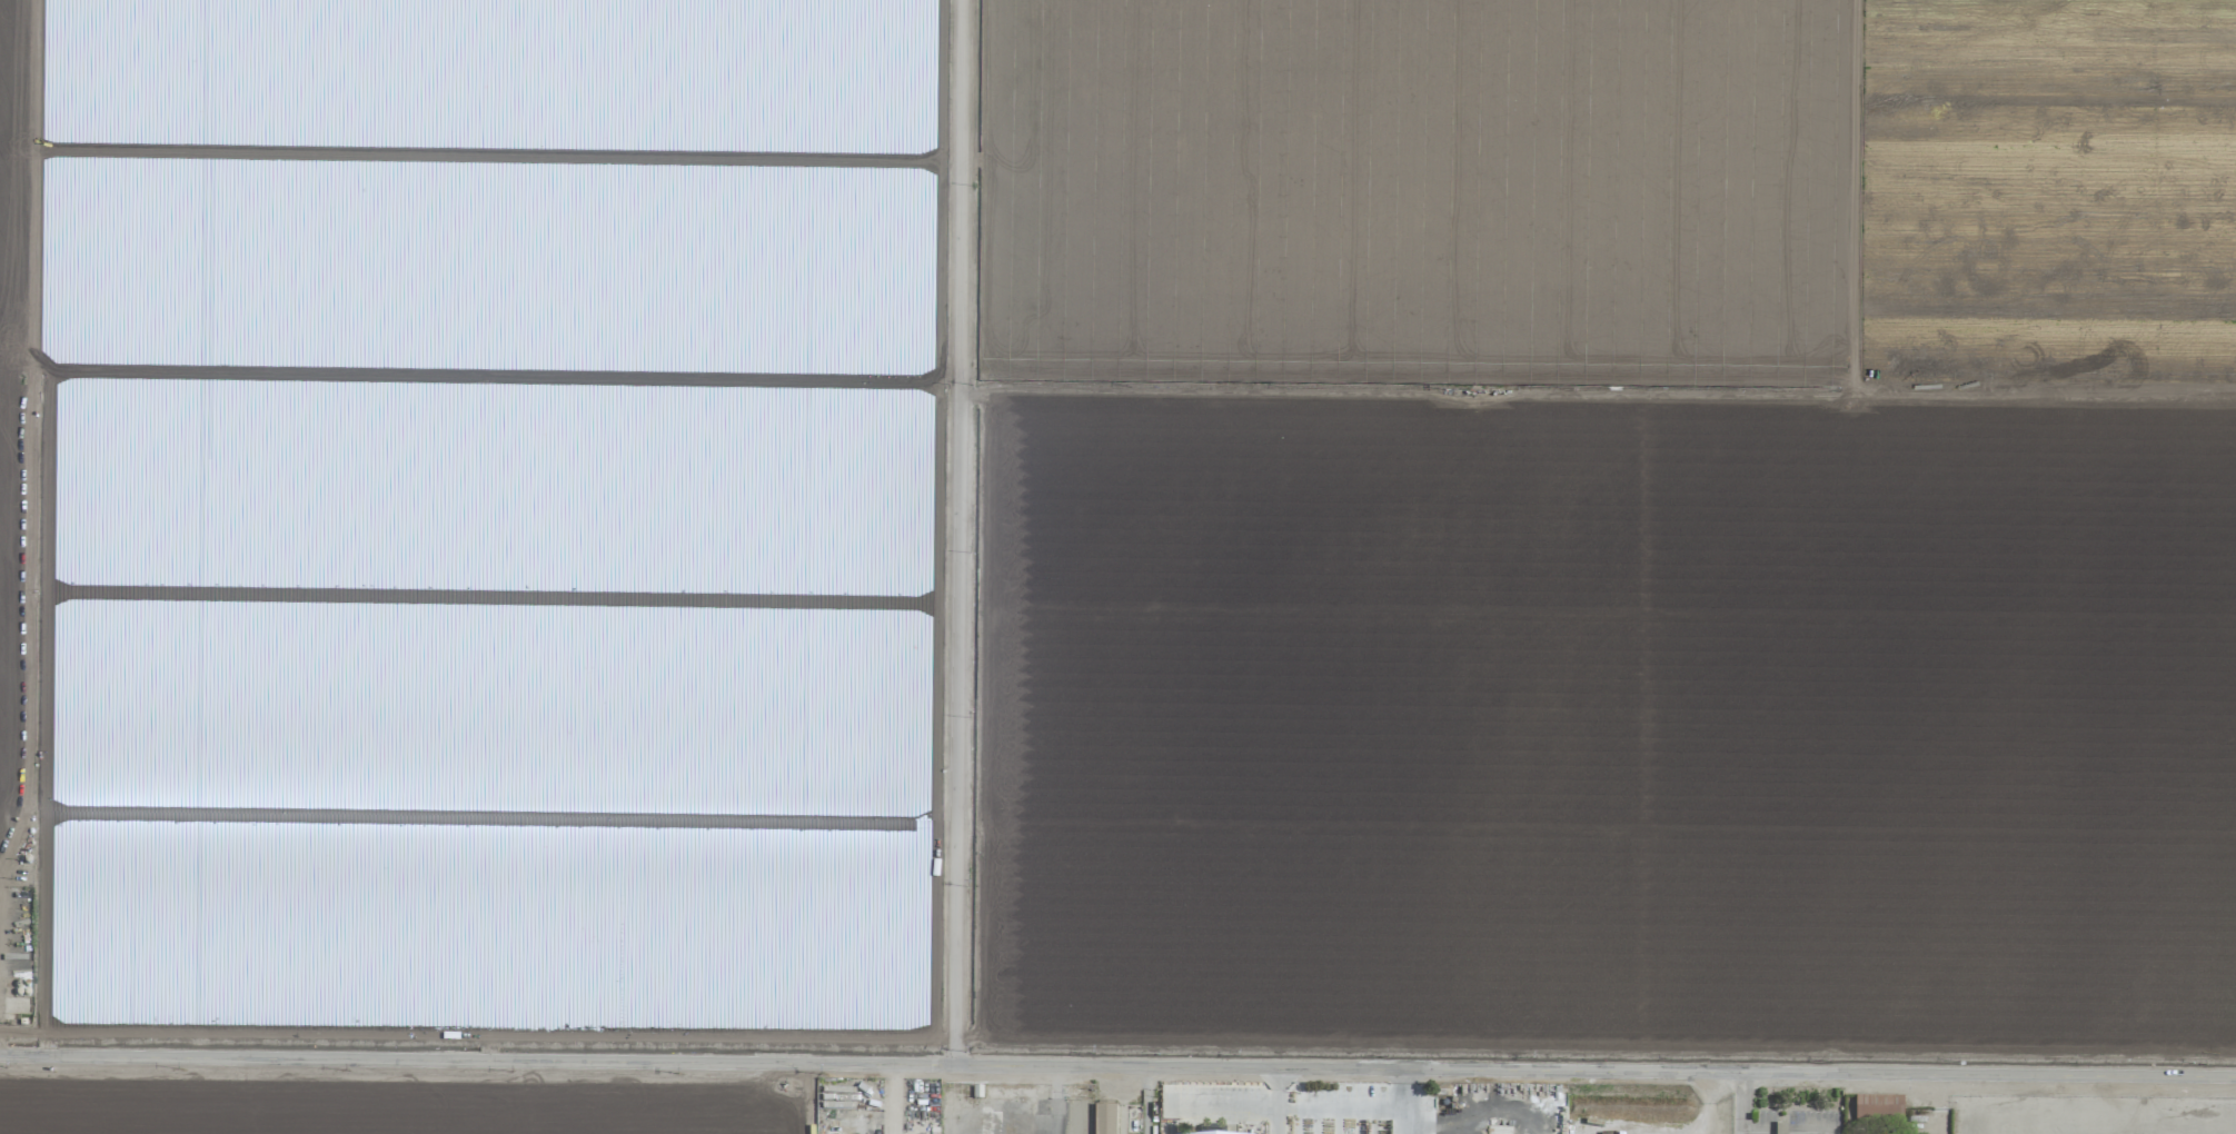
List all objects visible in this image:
crop: (1120, 519)
road: (960, 534)
road: (1117, 1068)
road: (1278, 1078)
road: (1056, 1101)
road: (1401, 1103)
road: (1740, 1104)
road: (1283, 1106)
road: (1279, 1110)
building: (1878, 1112)
airport: (1840, 1113)
building: (1104, 1120)
building: (1780, 1128)

